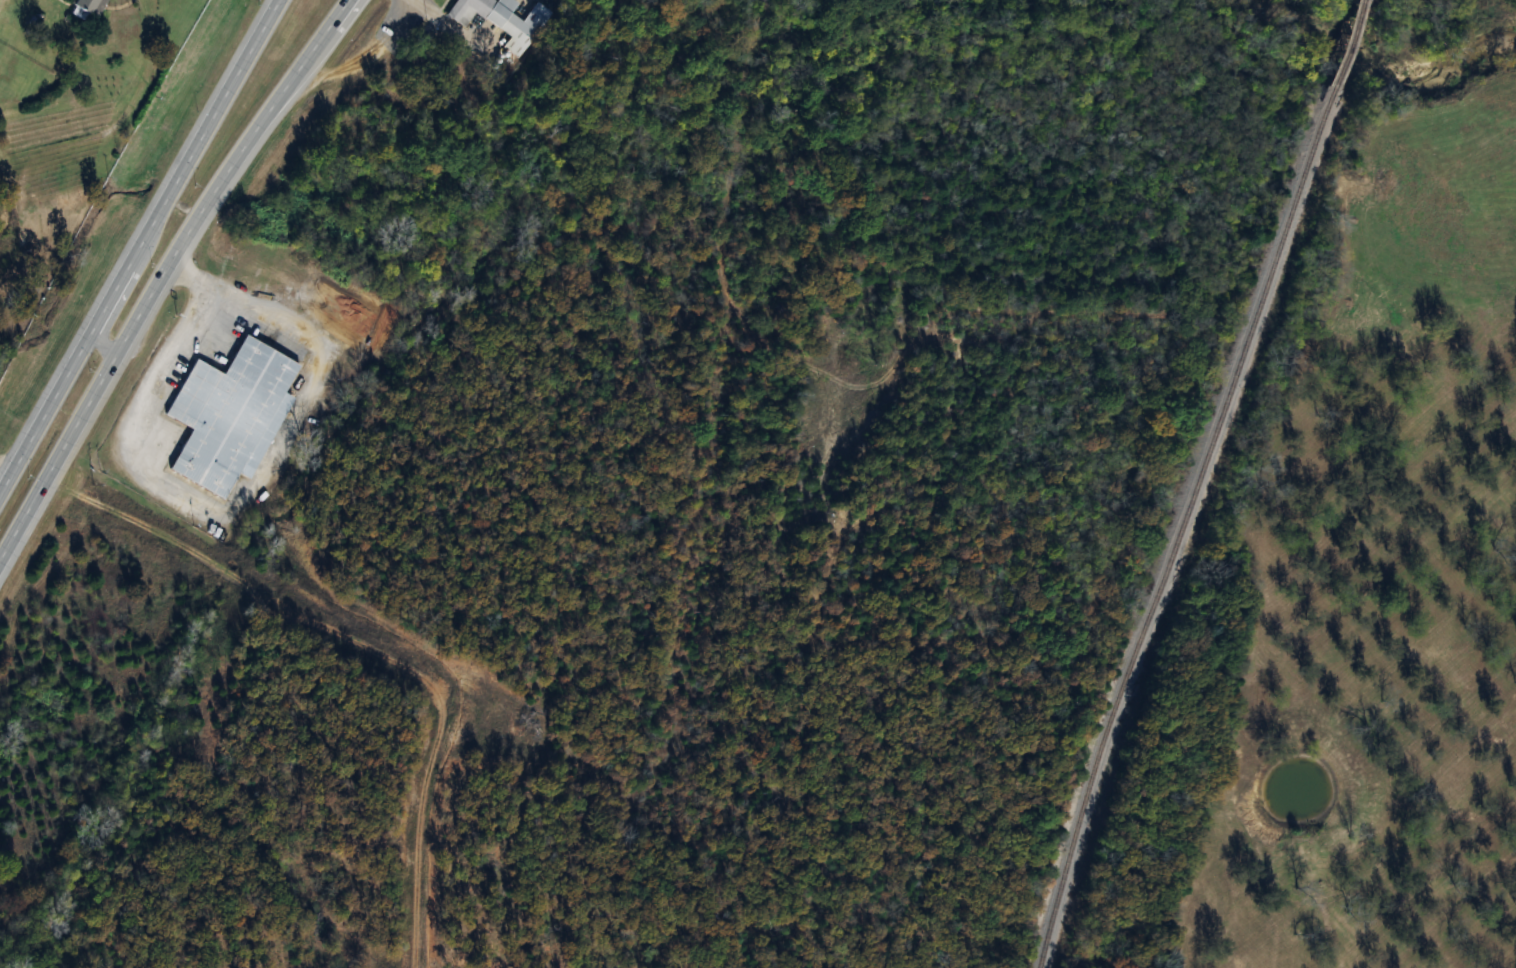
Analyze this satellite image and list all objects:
building: (90, 6)
building: (498, 19)
road: (268, 37)
railway: (1351, 47)
road: (229, 170)
road: (124, 281)
road: (107, 342)
building: (231, 415)
road: (61, 457)
road: (3, 478)
road: (223, 517)
railway: (1191, 528)
road: (427, 839)

